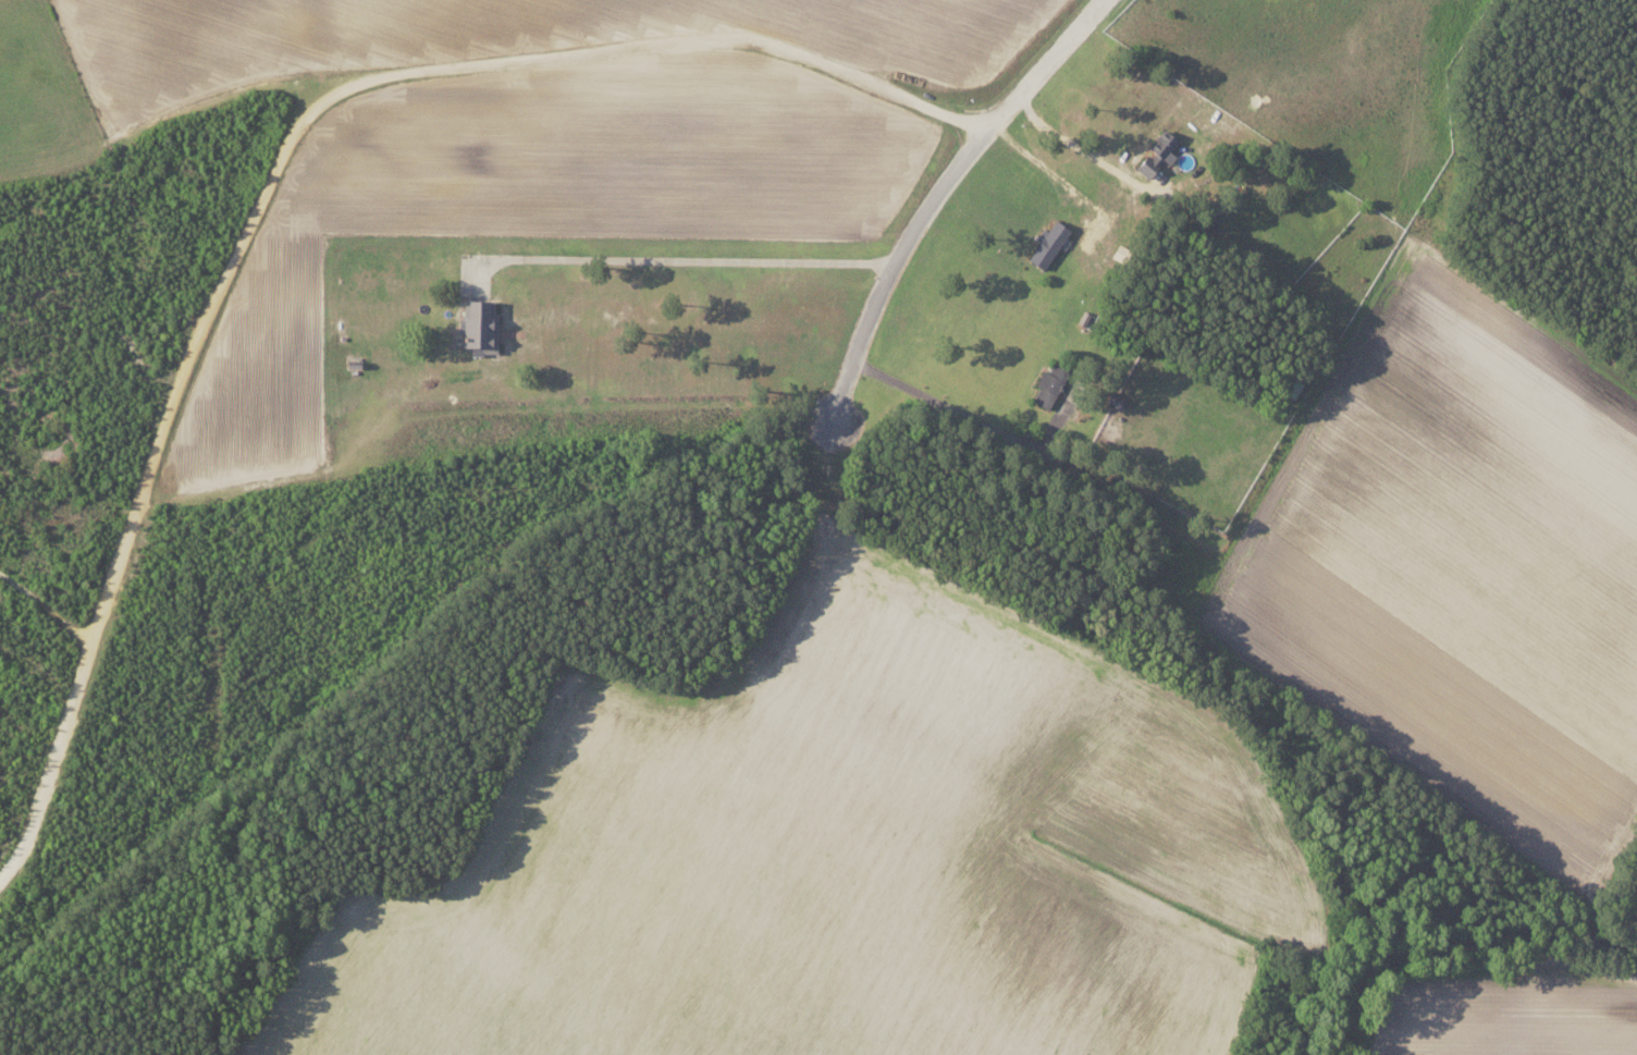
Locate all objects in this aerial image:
building: (1156, 155)
road: (273, 175)
road: (940, 191)
building: (1046, 244)
road: (691, 253)
building: (478, 330)
building: (1047, 385)
building: (1115, 400)
road: (49, 610)

